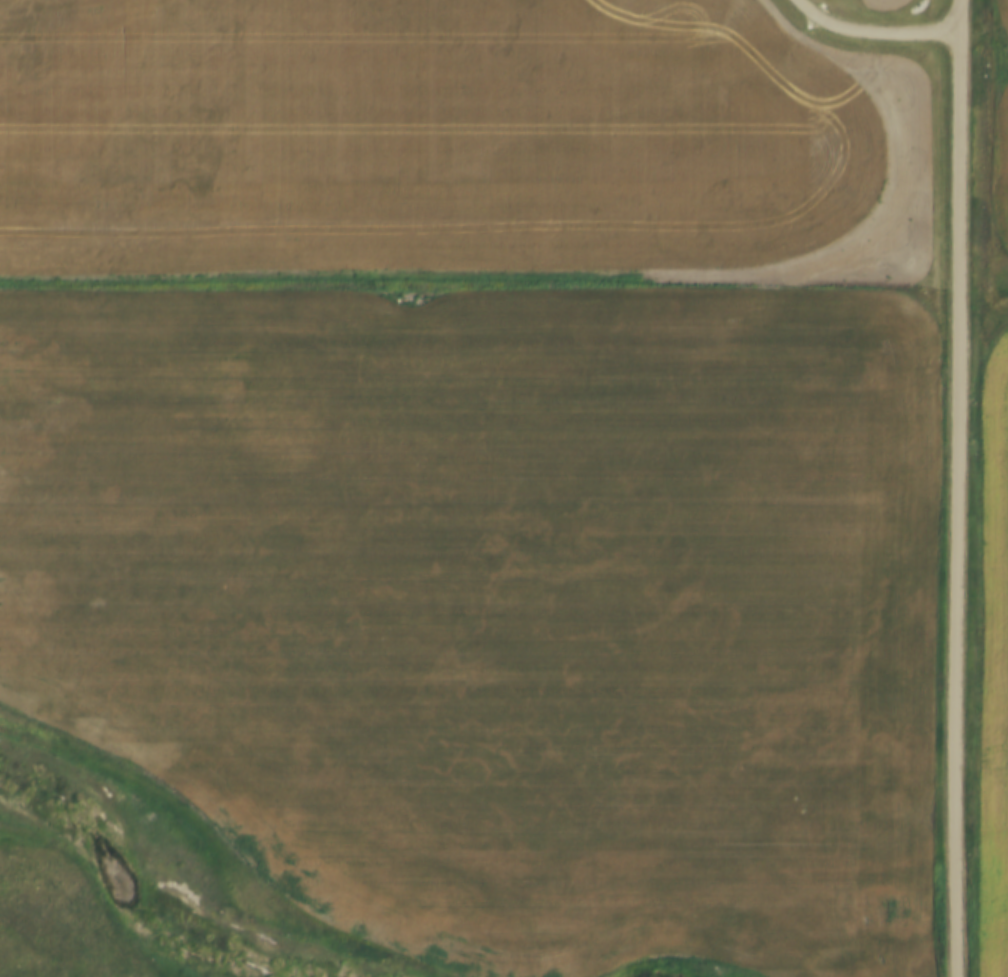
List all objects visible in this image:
road: (956, 488)

